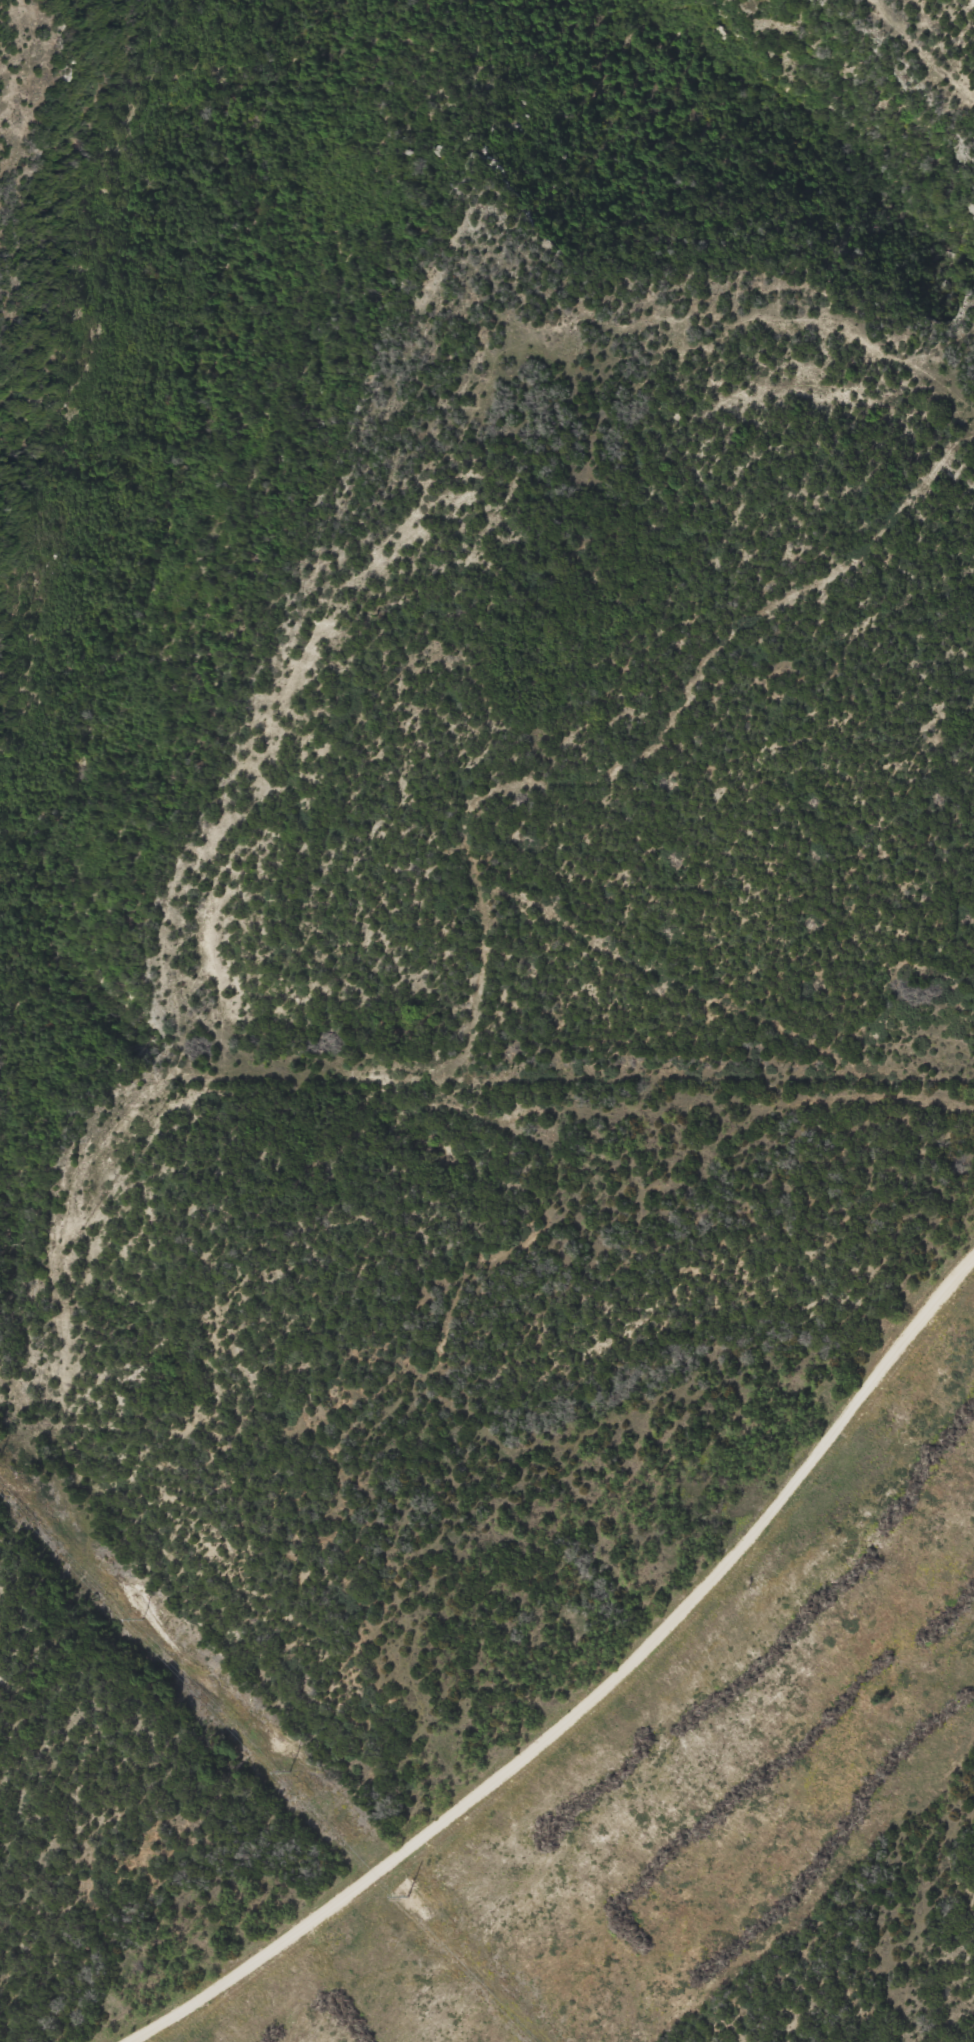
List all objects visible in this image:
power tower: (140, 1617)
power tower: (287, 1767)
power tower: (406, 1894)

